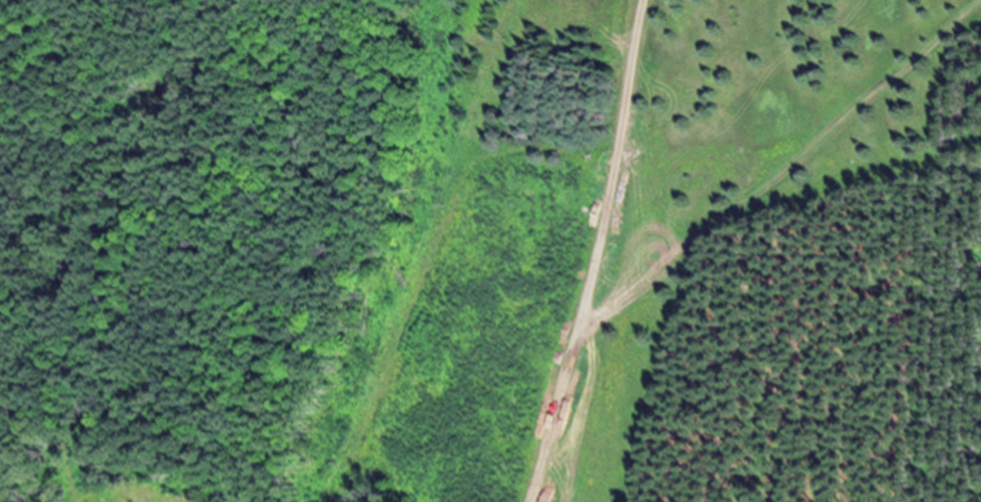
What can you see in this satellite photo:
road: (594, 252)

